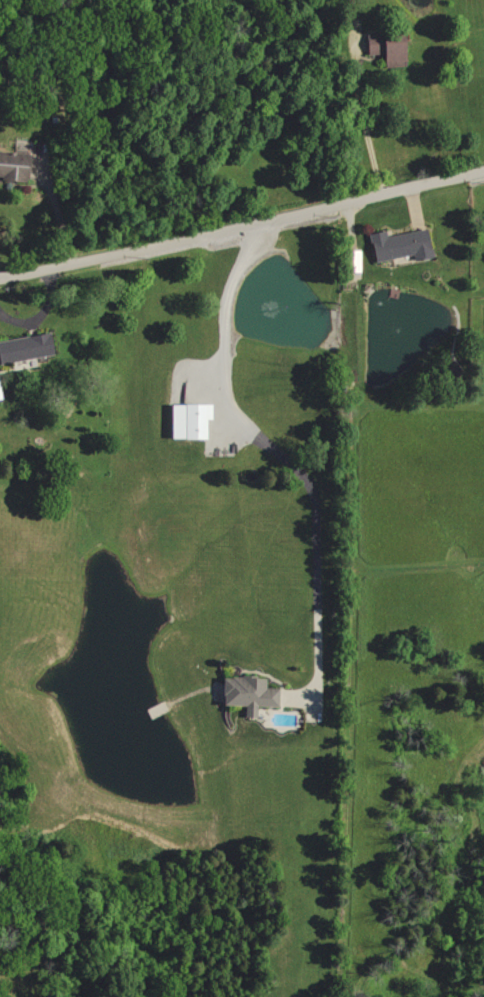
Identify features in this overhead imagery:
building: (383, 48)
building: (12, 167)
road: (57, 213)
road: (242, 228)
building: (398, 246)
building: (349, 265)
building: (24, 348)
building: (0, 399)
building: (186, 421)
road: (269, 448)
building: (245, 693)

